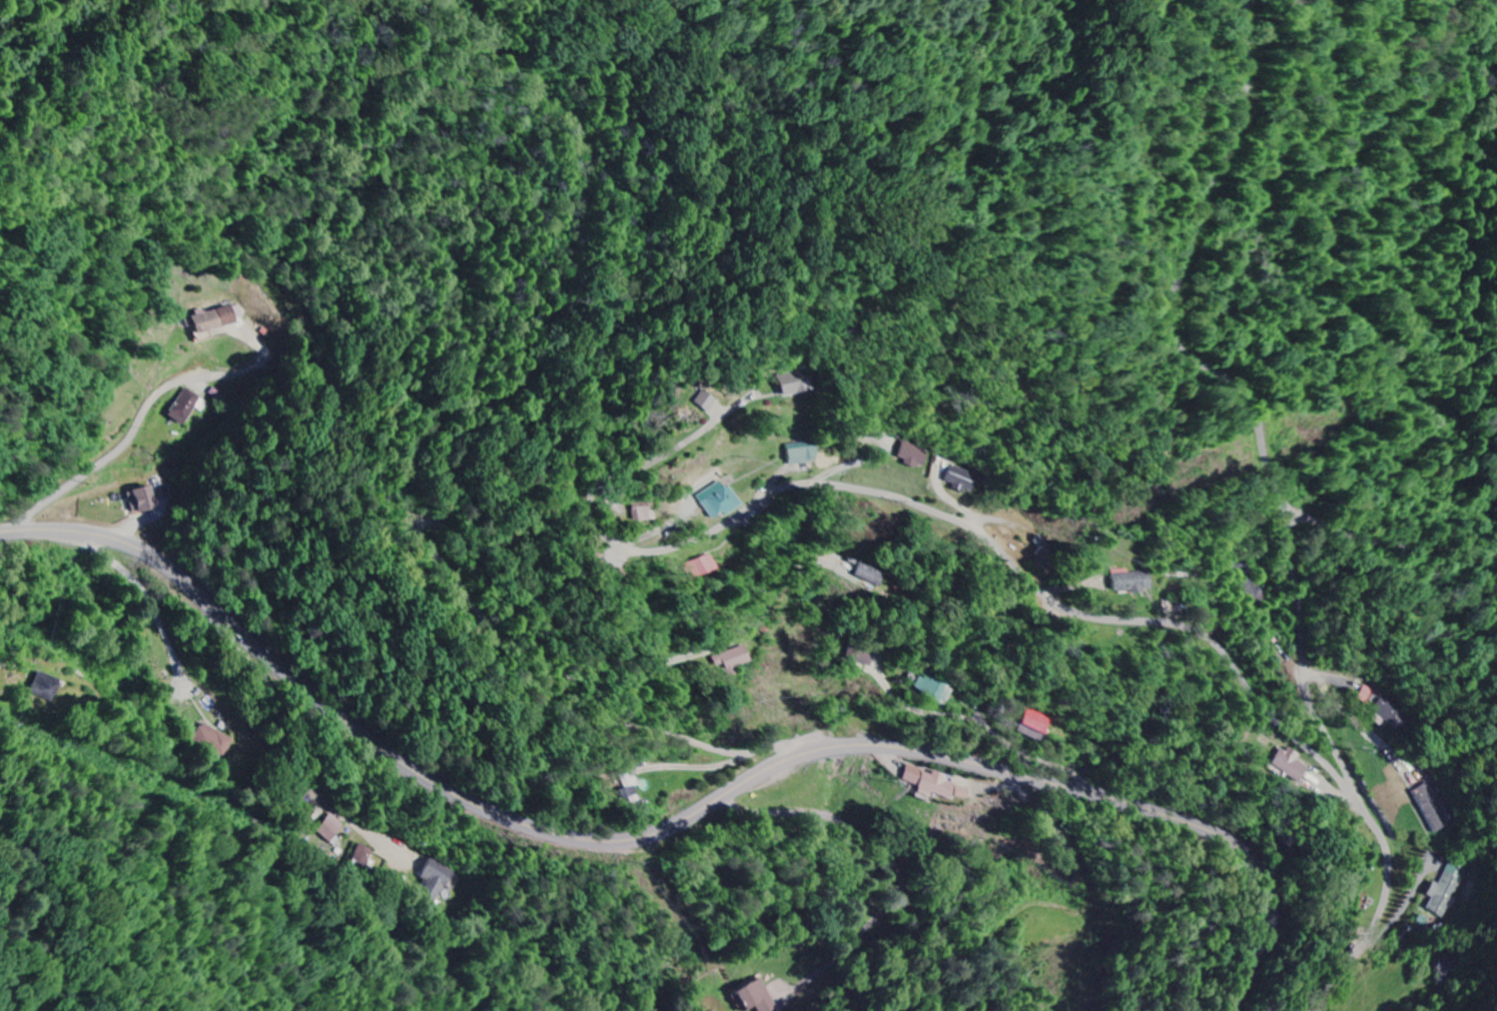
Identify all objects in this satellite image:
road: (1246, 13)
road: (1180, 289)
building: (216, 320)
building: (795, 384)
building: (706, 401)
building: (187, 408)
building: (802, 453)
road: (113, 455)
building: (914, 456)
building: (965, 481)
building: (144, 501)
building: (719, 501)
building: (642, 512)
road: (1392, 550)
road: (1008, 557)
building: (702, 567)
building: (870, 578)
building: (1131, 582)
road: (1302, 605)
building: (865, 659)
building: (732, 660)
building: (45, 688)
building: (934, 689)
building: (1390, 712)
building: (1032, 726)
road: (989, 729)
building: (212, 740)
building: (1288, 765)
building: (934, 786)
building: (629, 792)
building: (1430, 807)
road: (678, 822)
building: (332, 829)
road: (1389, 854)
building: (361, 857)
building: (436, 882)
building: (1444, 894)
building: (1422, 919)
building: (1449, 967)
building: (755, 998)

